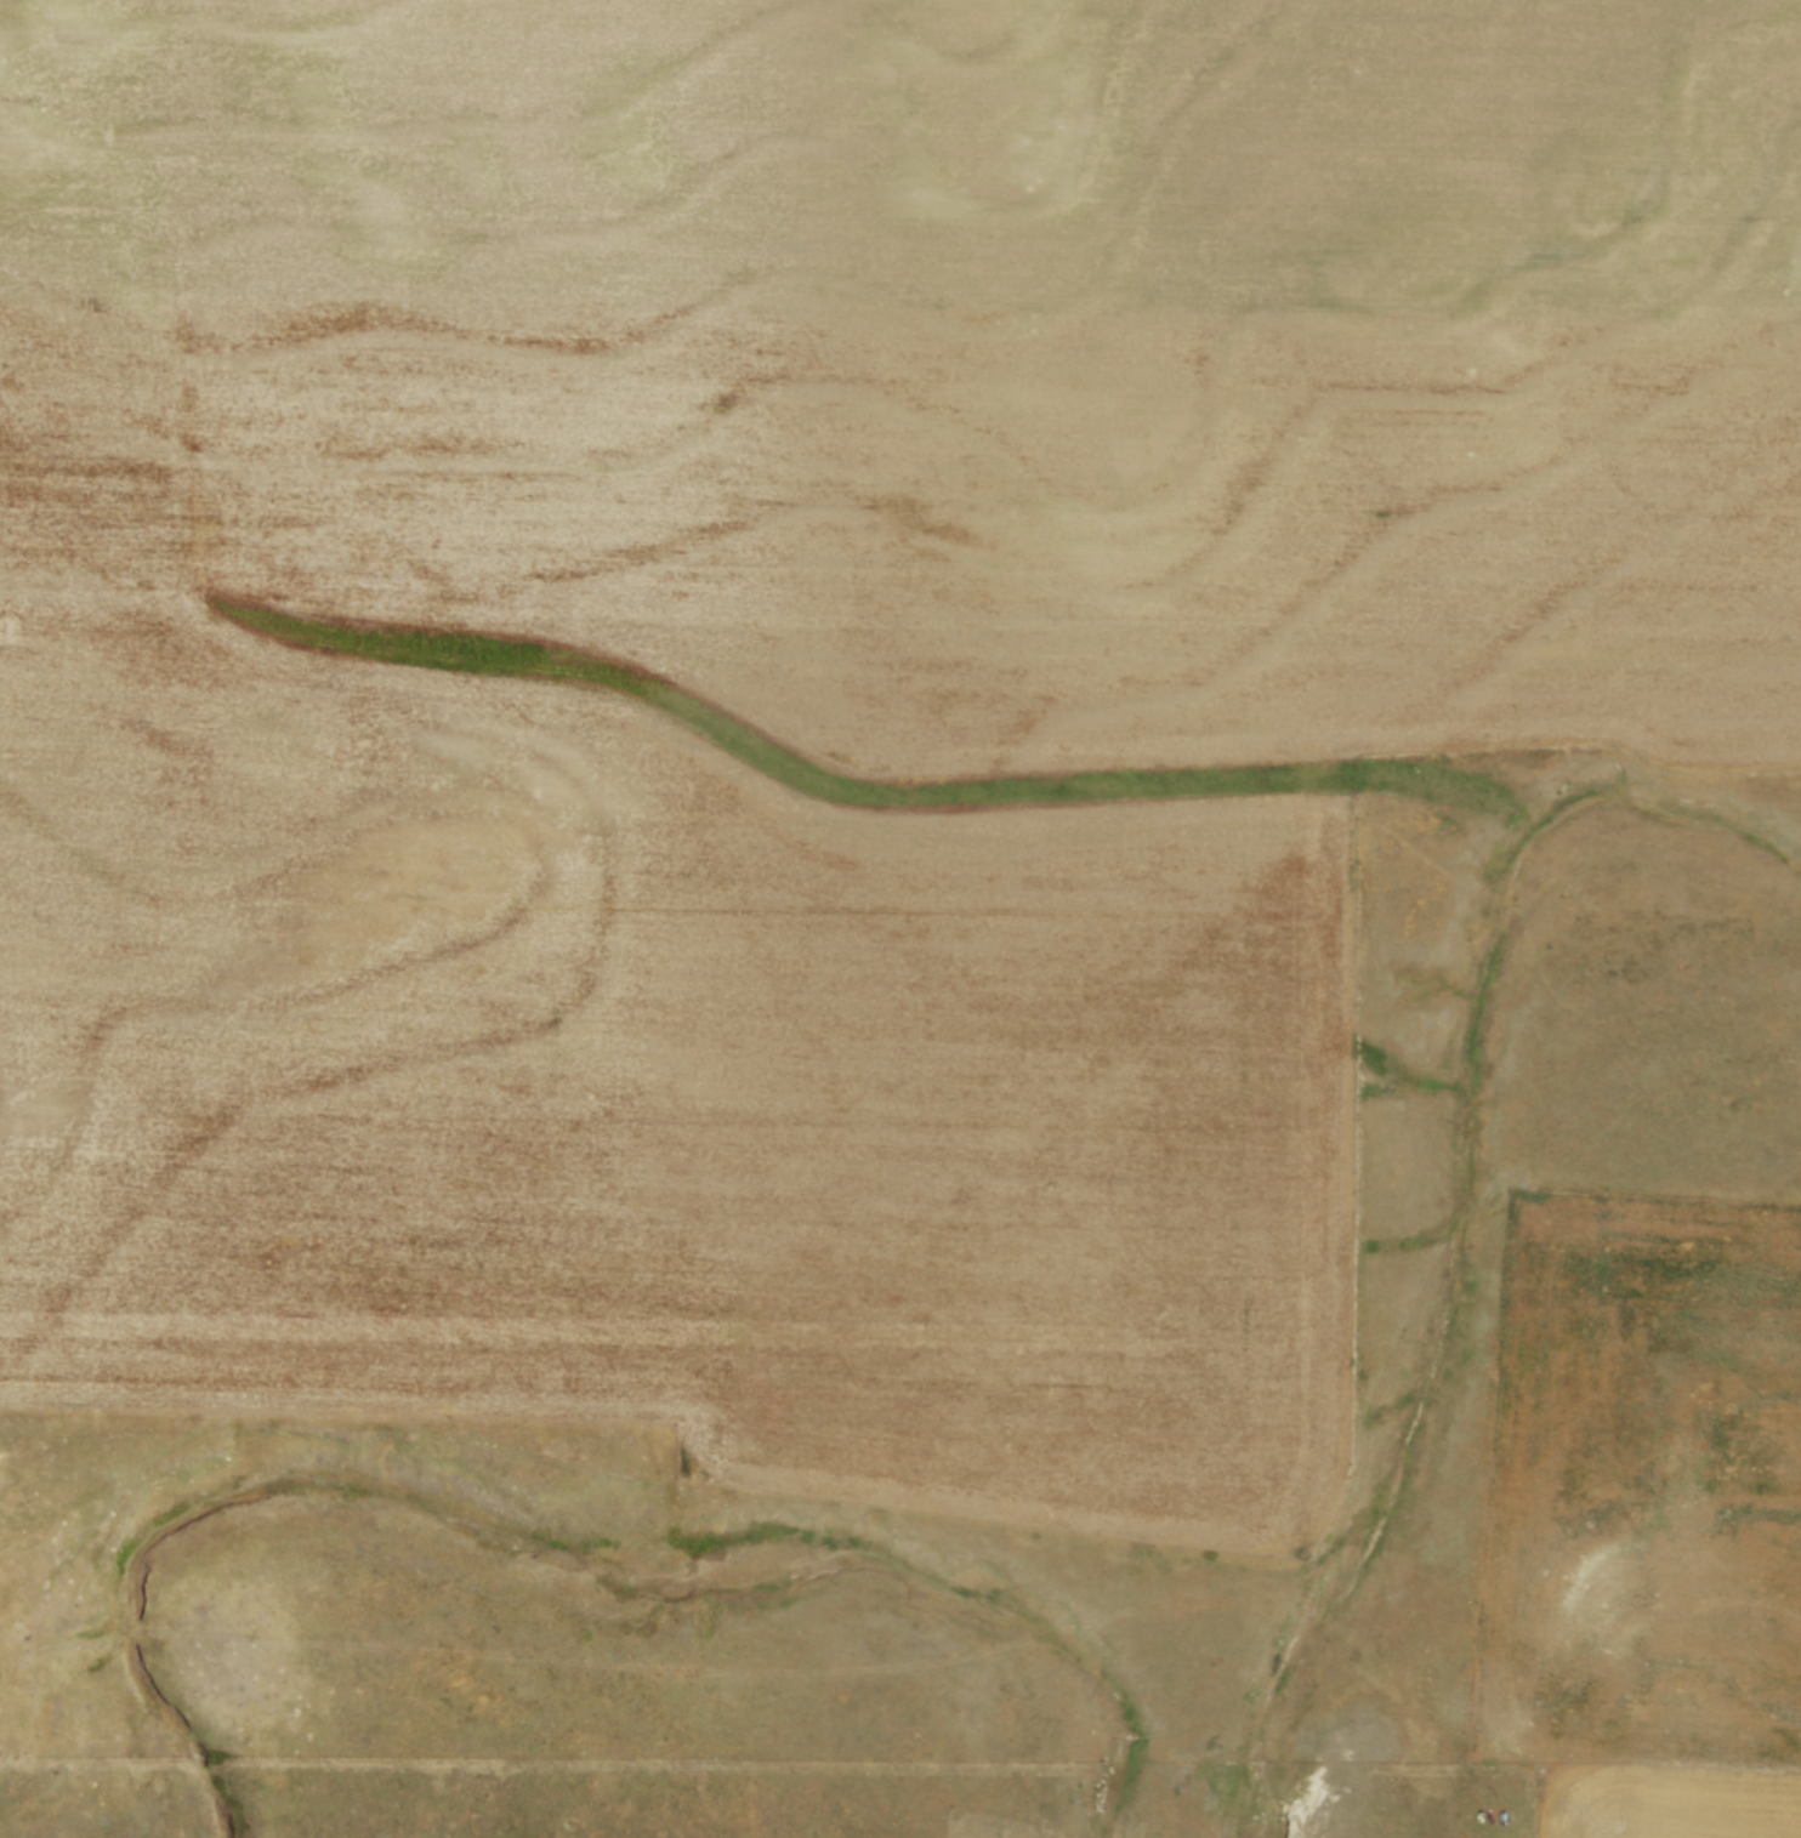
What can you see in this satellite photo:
crop: (818, 677)
crop: (1646, 1514)

